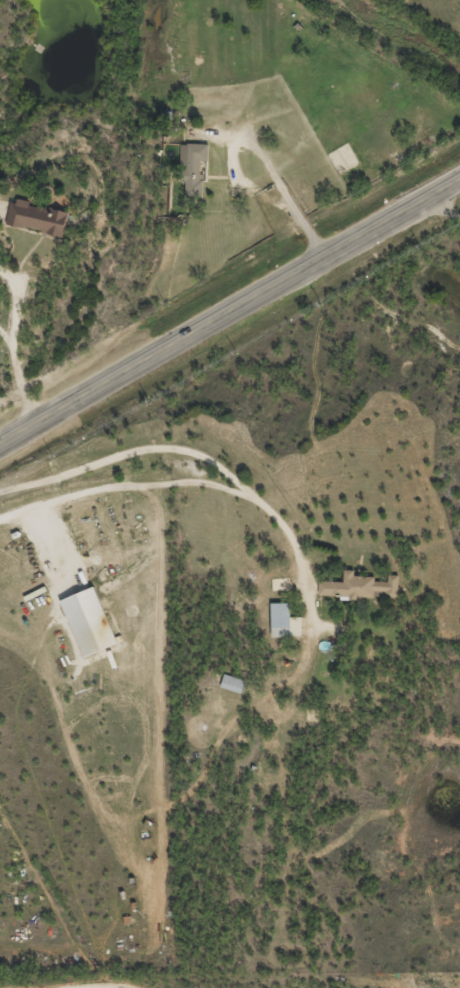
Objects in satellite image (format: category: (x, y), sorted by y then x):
building: (192, 170)
road: (285, 194)
building: (37, 216)
road: (229, 308)
road: (206, 482)
building: (280, 583)
building: (360, 585)
building: (284, 620)
building: (232, 682)

